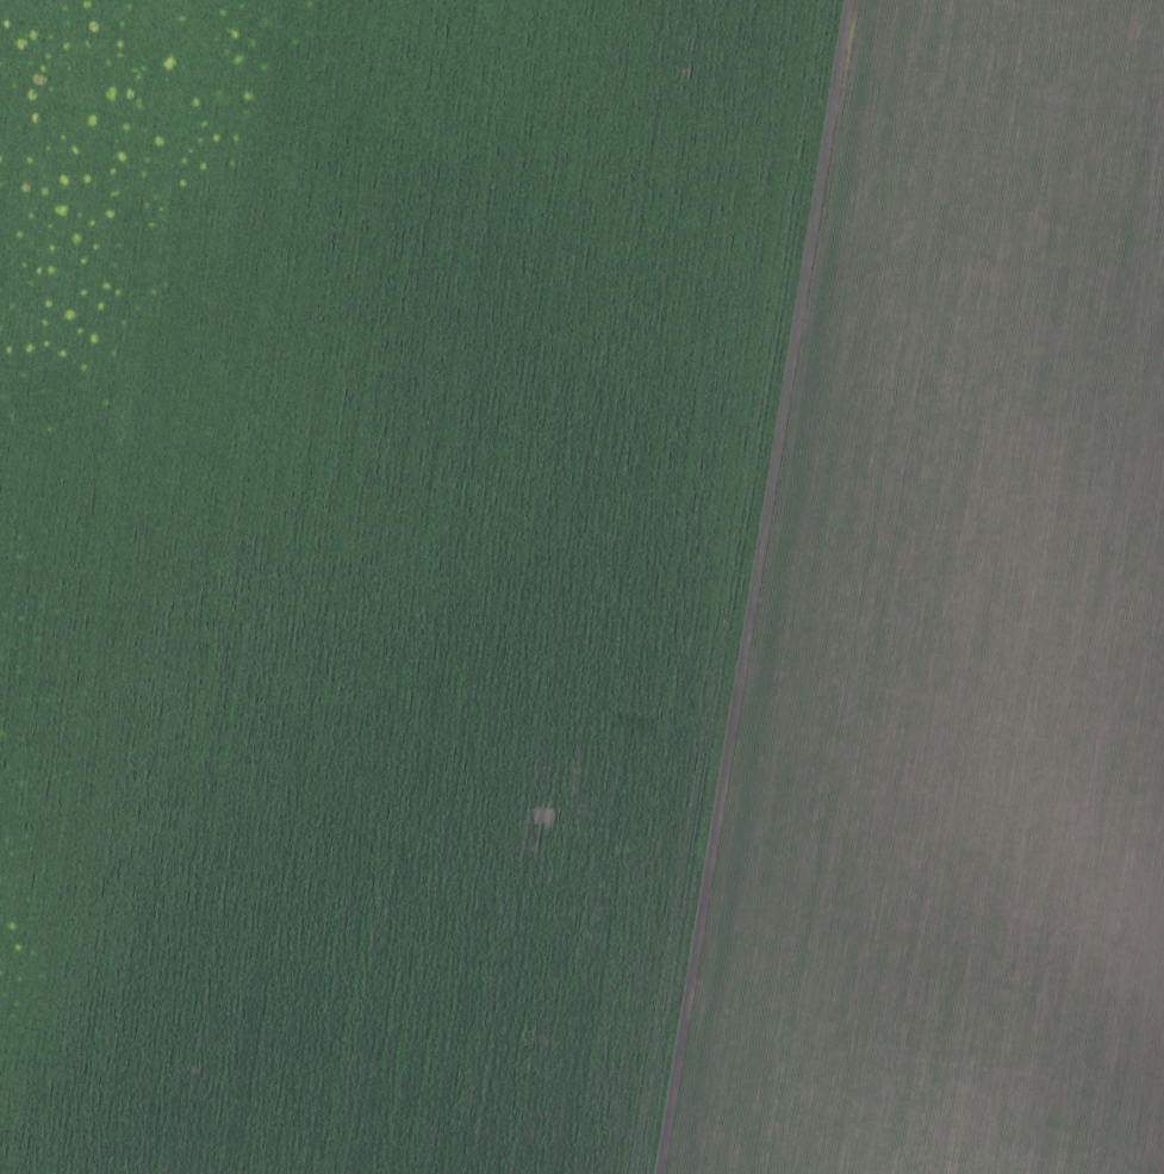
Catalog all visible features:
crop: (581, 586)

